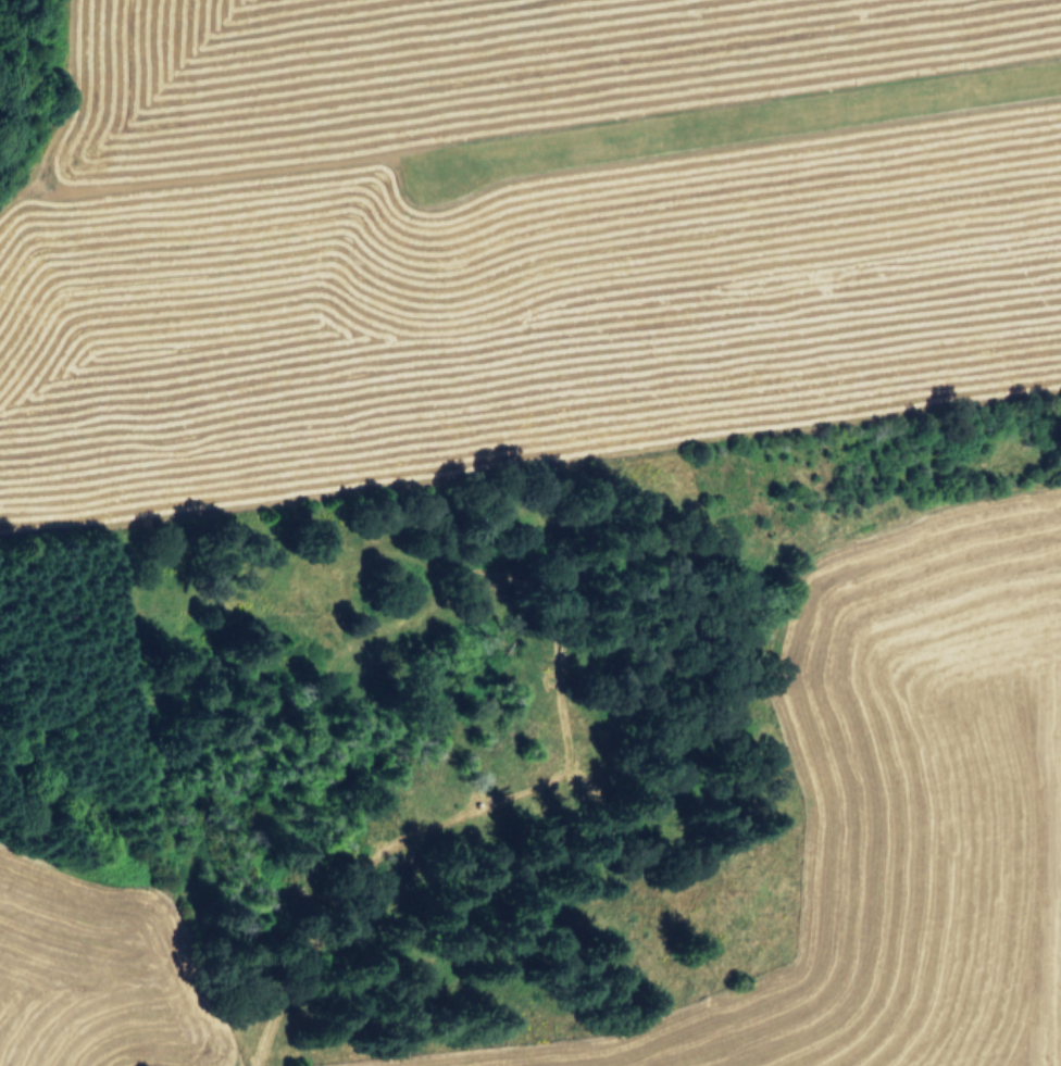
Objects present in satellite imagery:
airport runway: (744, 129)
crop: (612, 447)

